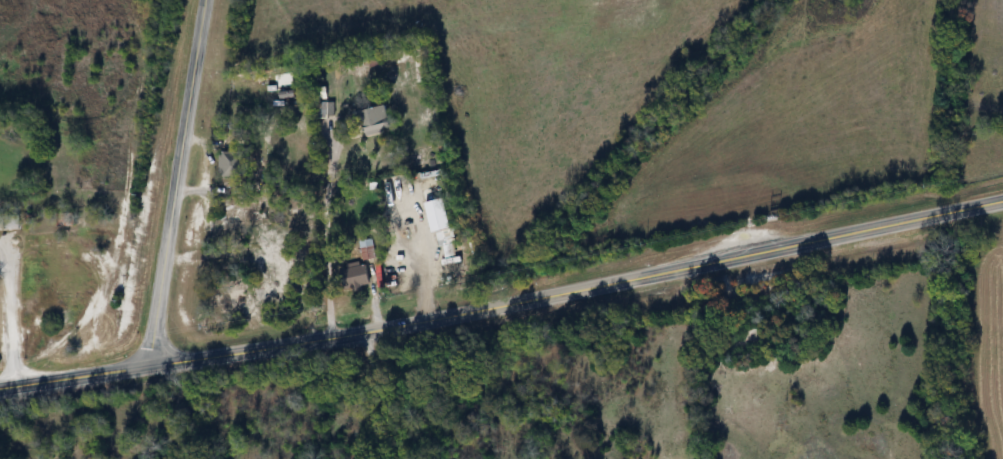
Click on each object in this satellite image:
building: (321, 111)
building: (375, 122)
building: (231, 165)
road: (179, 178)
building: (9, 224)
road: (329, 234)
building: (447, 245)
building: (367, 251)
building: (356, 278)
building: (305, 287)
building: (238, 300)
road: (503, 303)
road: (8, 314)
road: (383, 393)

